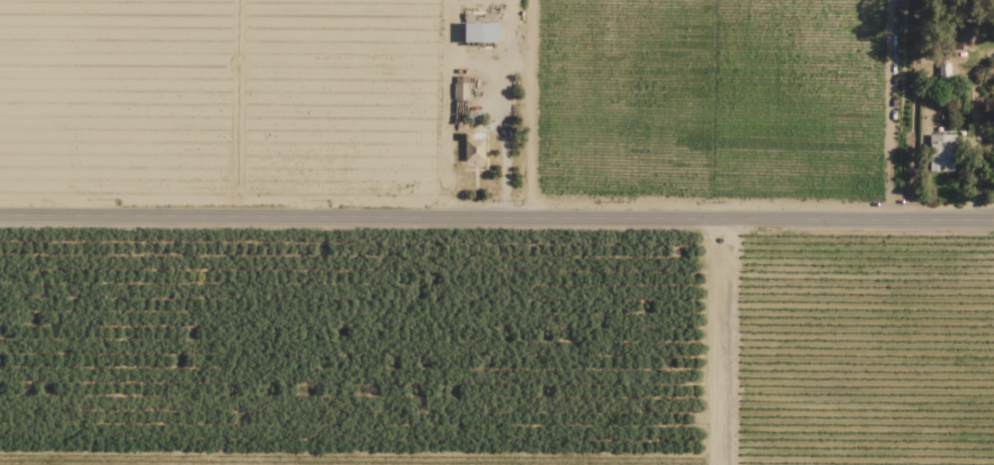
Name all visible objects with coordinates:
building: (962, 39)
building: (942, 72)
building: (940, 152)
road: (497, 217)

